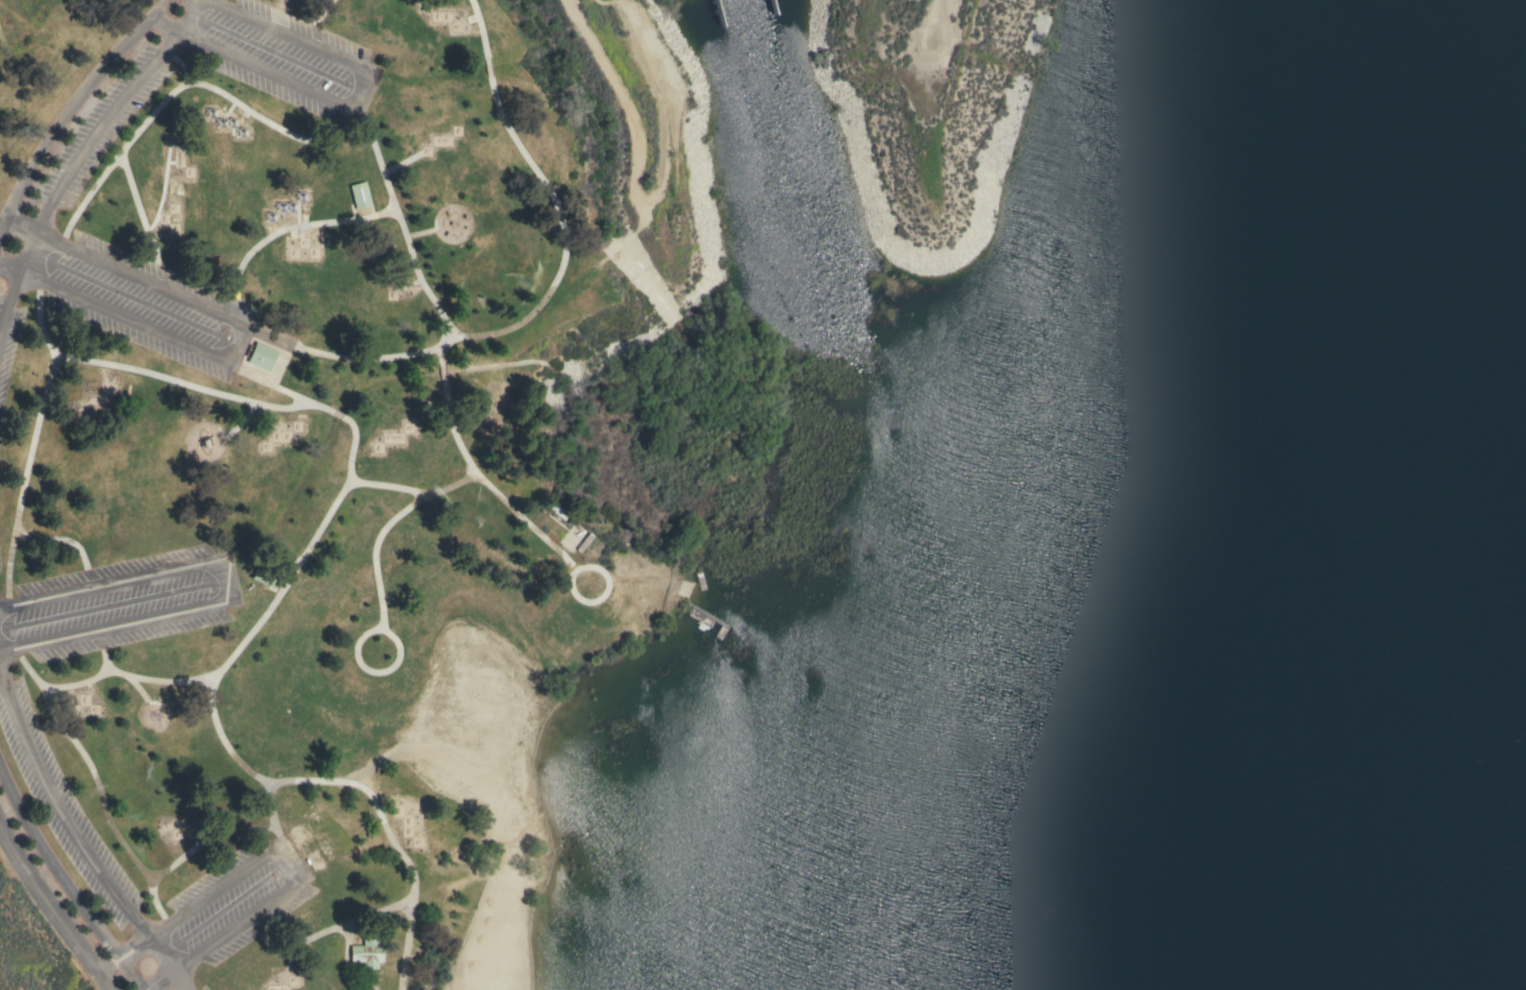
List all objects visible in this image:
road: (210, 1)
road: (317, 22)
parking lot: (270, 53)
road: (183, 64)
road: (180, 87)
road: (355, 96)
road: (233, 104)
road: (71, 109)
parking lot: (102, 127)
road: (401, 163)
road: (69, 171)
road: (163, 189)
building: (360, 195)
road: (364, 212)
road: (143, 219)
road: (304, 224)
road: (283, 229)
road: (292, 230)
road: (20, 231)
road: (418, 233)
road: (10, 268)
parking lot: (138, 299)
road: (531, 312)
parking lot: (9, 342)
road: (236, 342)
building: (261, 356)
road: (346, 357)
road: (261, 381)
road: (234, 397)
road: (240, 420)
road: (32, 442)
road: (357, 451)
road: (474, 476)
road: (387, 486)
building: (557, 512)
park: (758, 520)
road: (383, 528)
road: (70, 541)
parking lot: (0, 567)
road: (589, 567)
building: (266, 576)
road: (226, 579)
parking lot: (0, 595)
parking lot: (118, 604)
road: (396, 649)
road: (101, 651)
building: (163, 669)
road: (217, 670)
road: (138, 687)
building: (349, 748)
building: (129, 756)
road: (242, 765)
road: (95, 783)
parking lot: (62, 805)
road: (75, 836)
road: (205, 838)
road: (392, 838)
building: (305, 841)
road: (283, 862)
road: (65, 880)
road: (155, 903)
road: (52, 908)
parking lot: (225, 908)
road: (318, 934)
building: (368, 952)
road: (346, 954)
road: (123, 956)
road: (159, 981)
parking lot: (187, 986)
parking lot: (204, 988)

